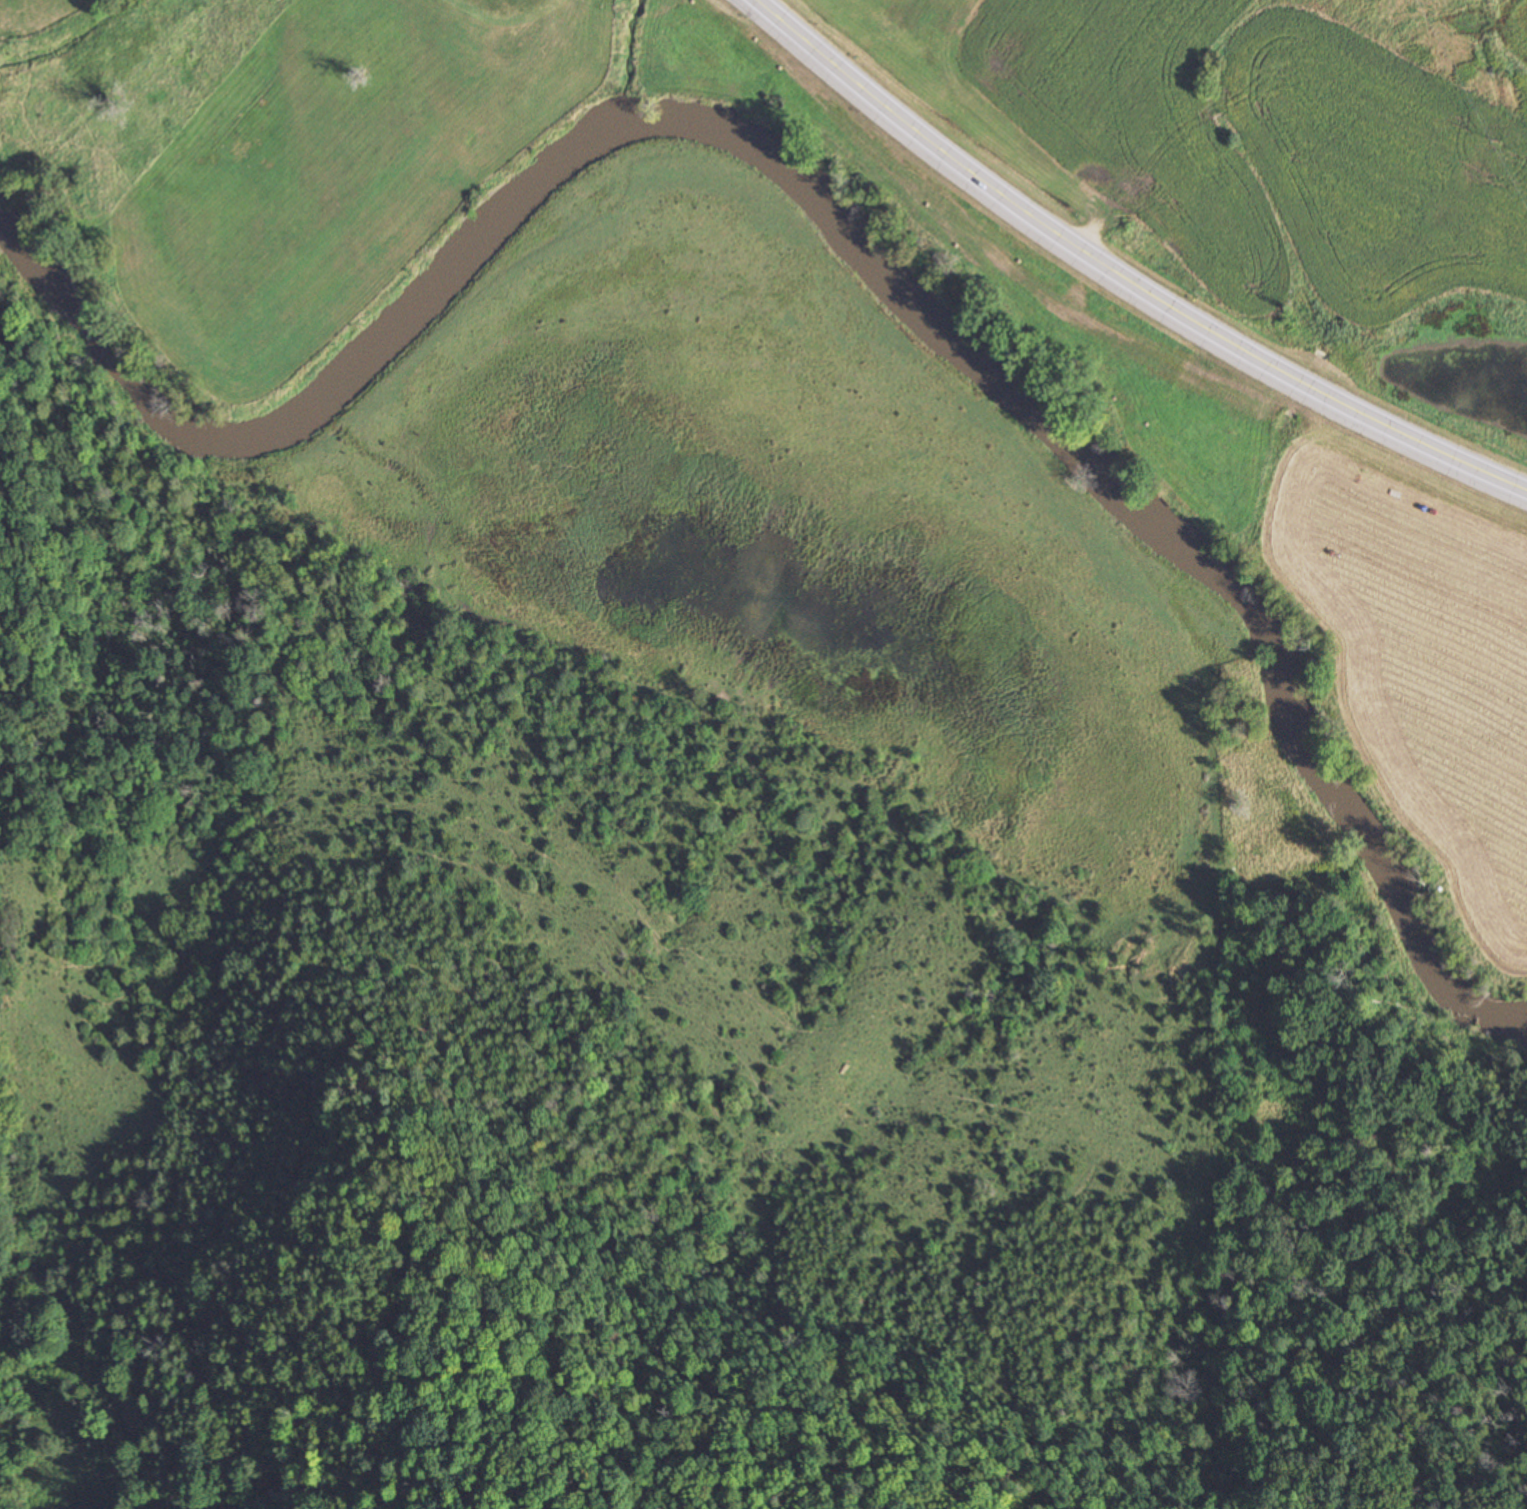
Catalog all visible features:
park: (48, 19)
river: (831, 218)
road: (1074, 244)
road: (1474, 466)

